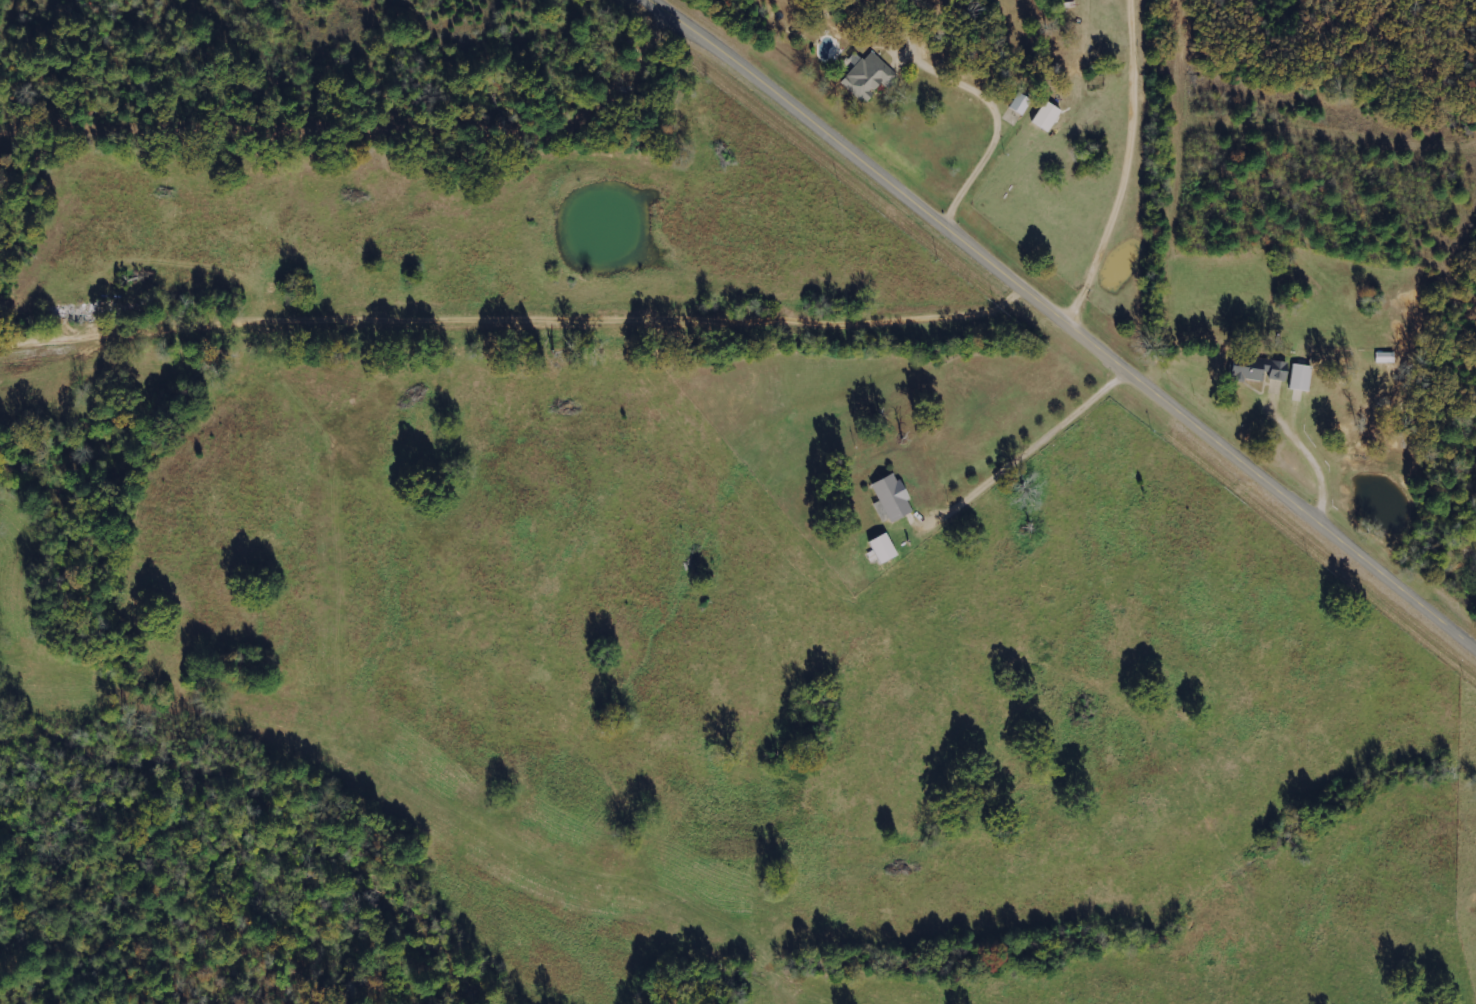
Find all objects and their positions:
building: (868, 76)
building: (1019, 104)
building: (1045, 117)
road: (1064, 322)
road: (504, 326)
building: (1256, 369)
building: (1300, 377)
road: (1024, 449)
building: (891, 497)
building: (882, 548)

